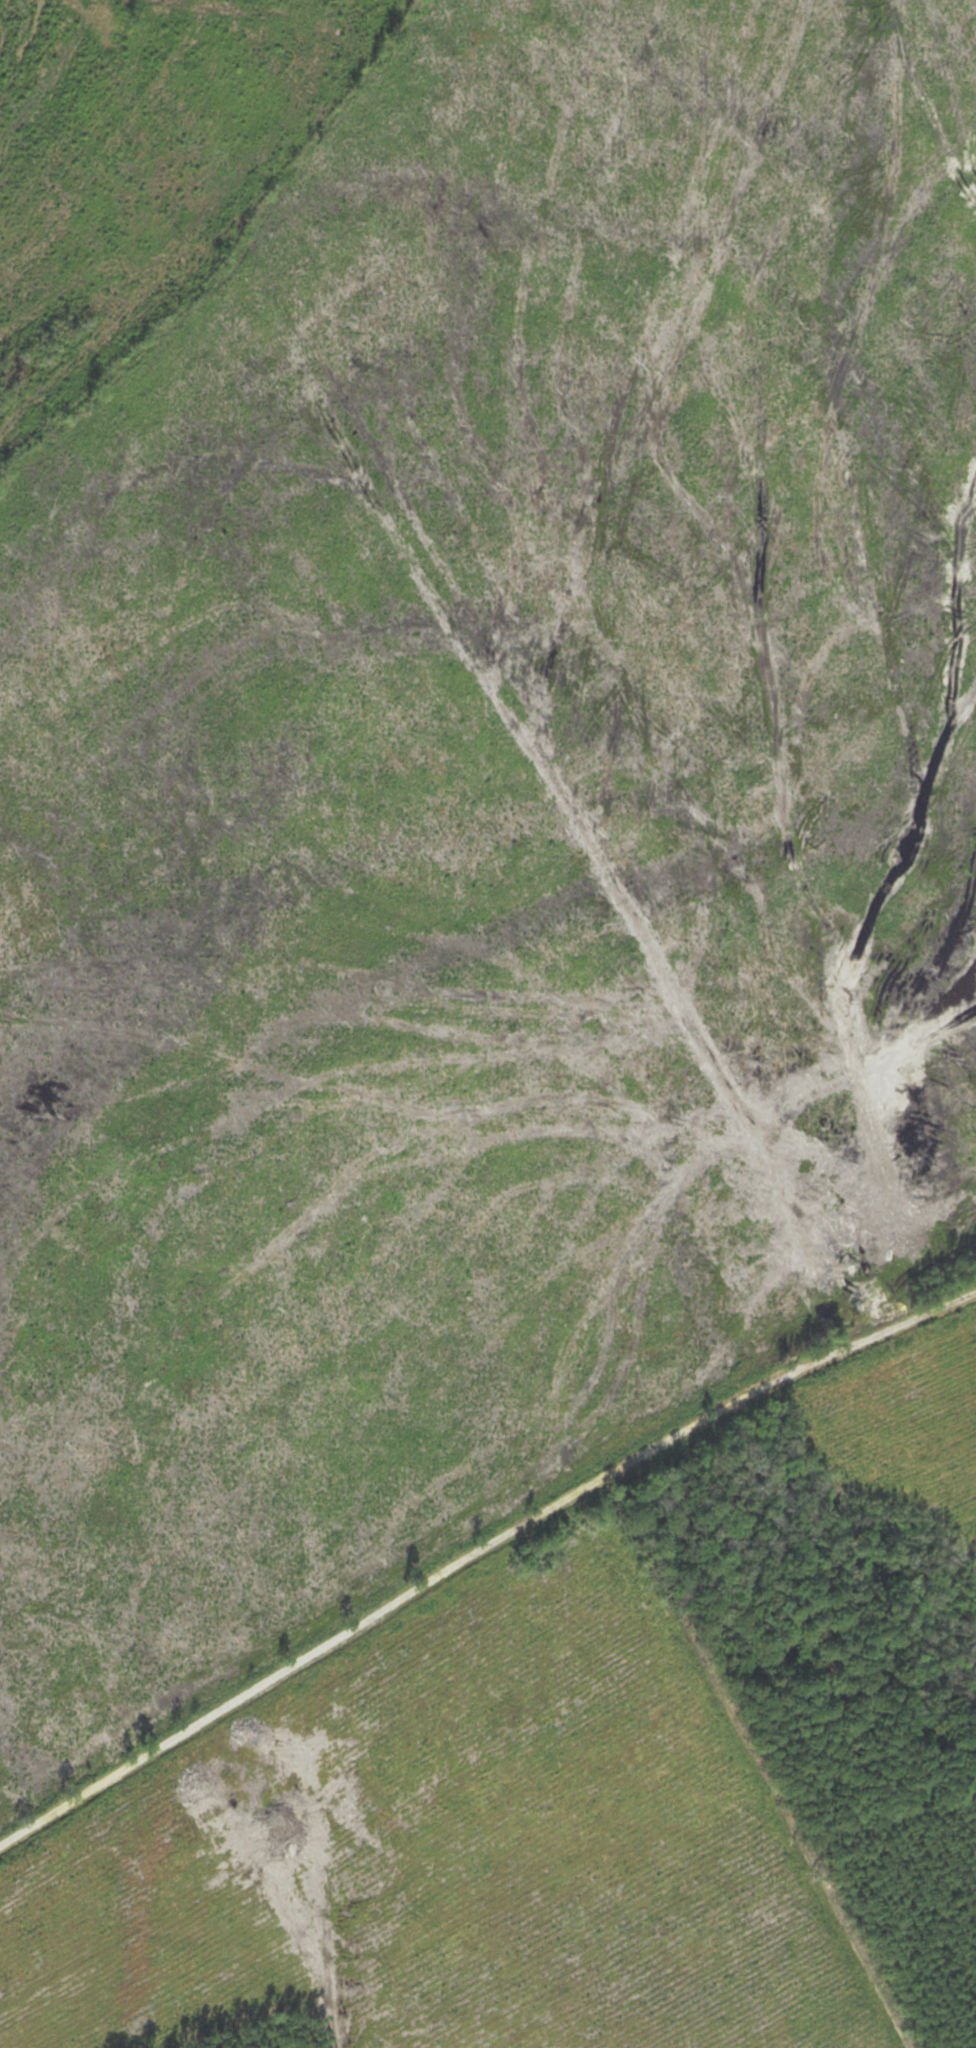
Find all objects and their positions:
road: (479, 1550)

